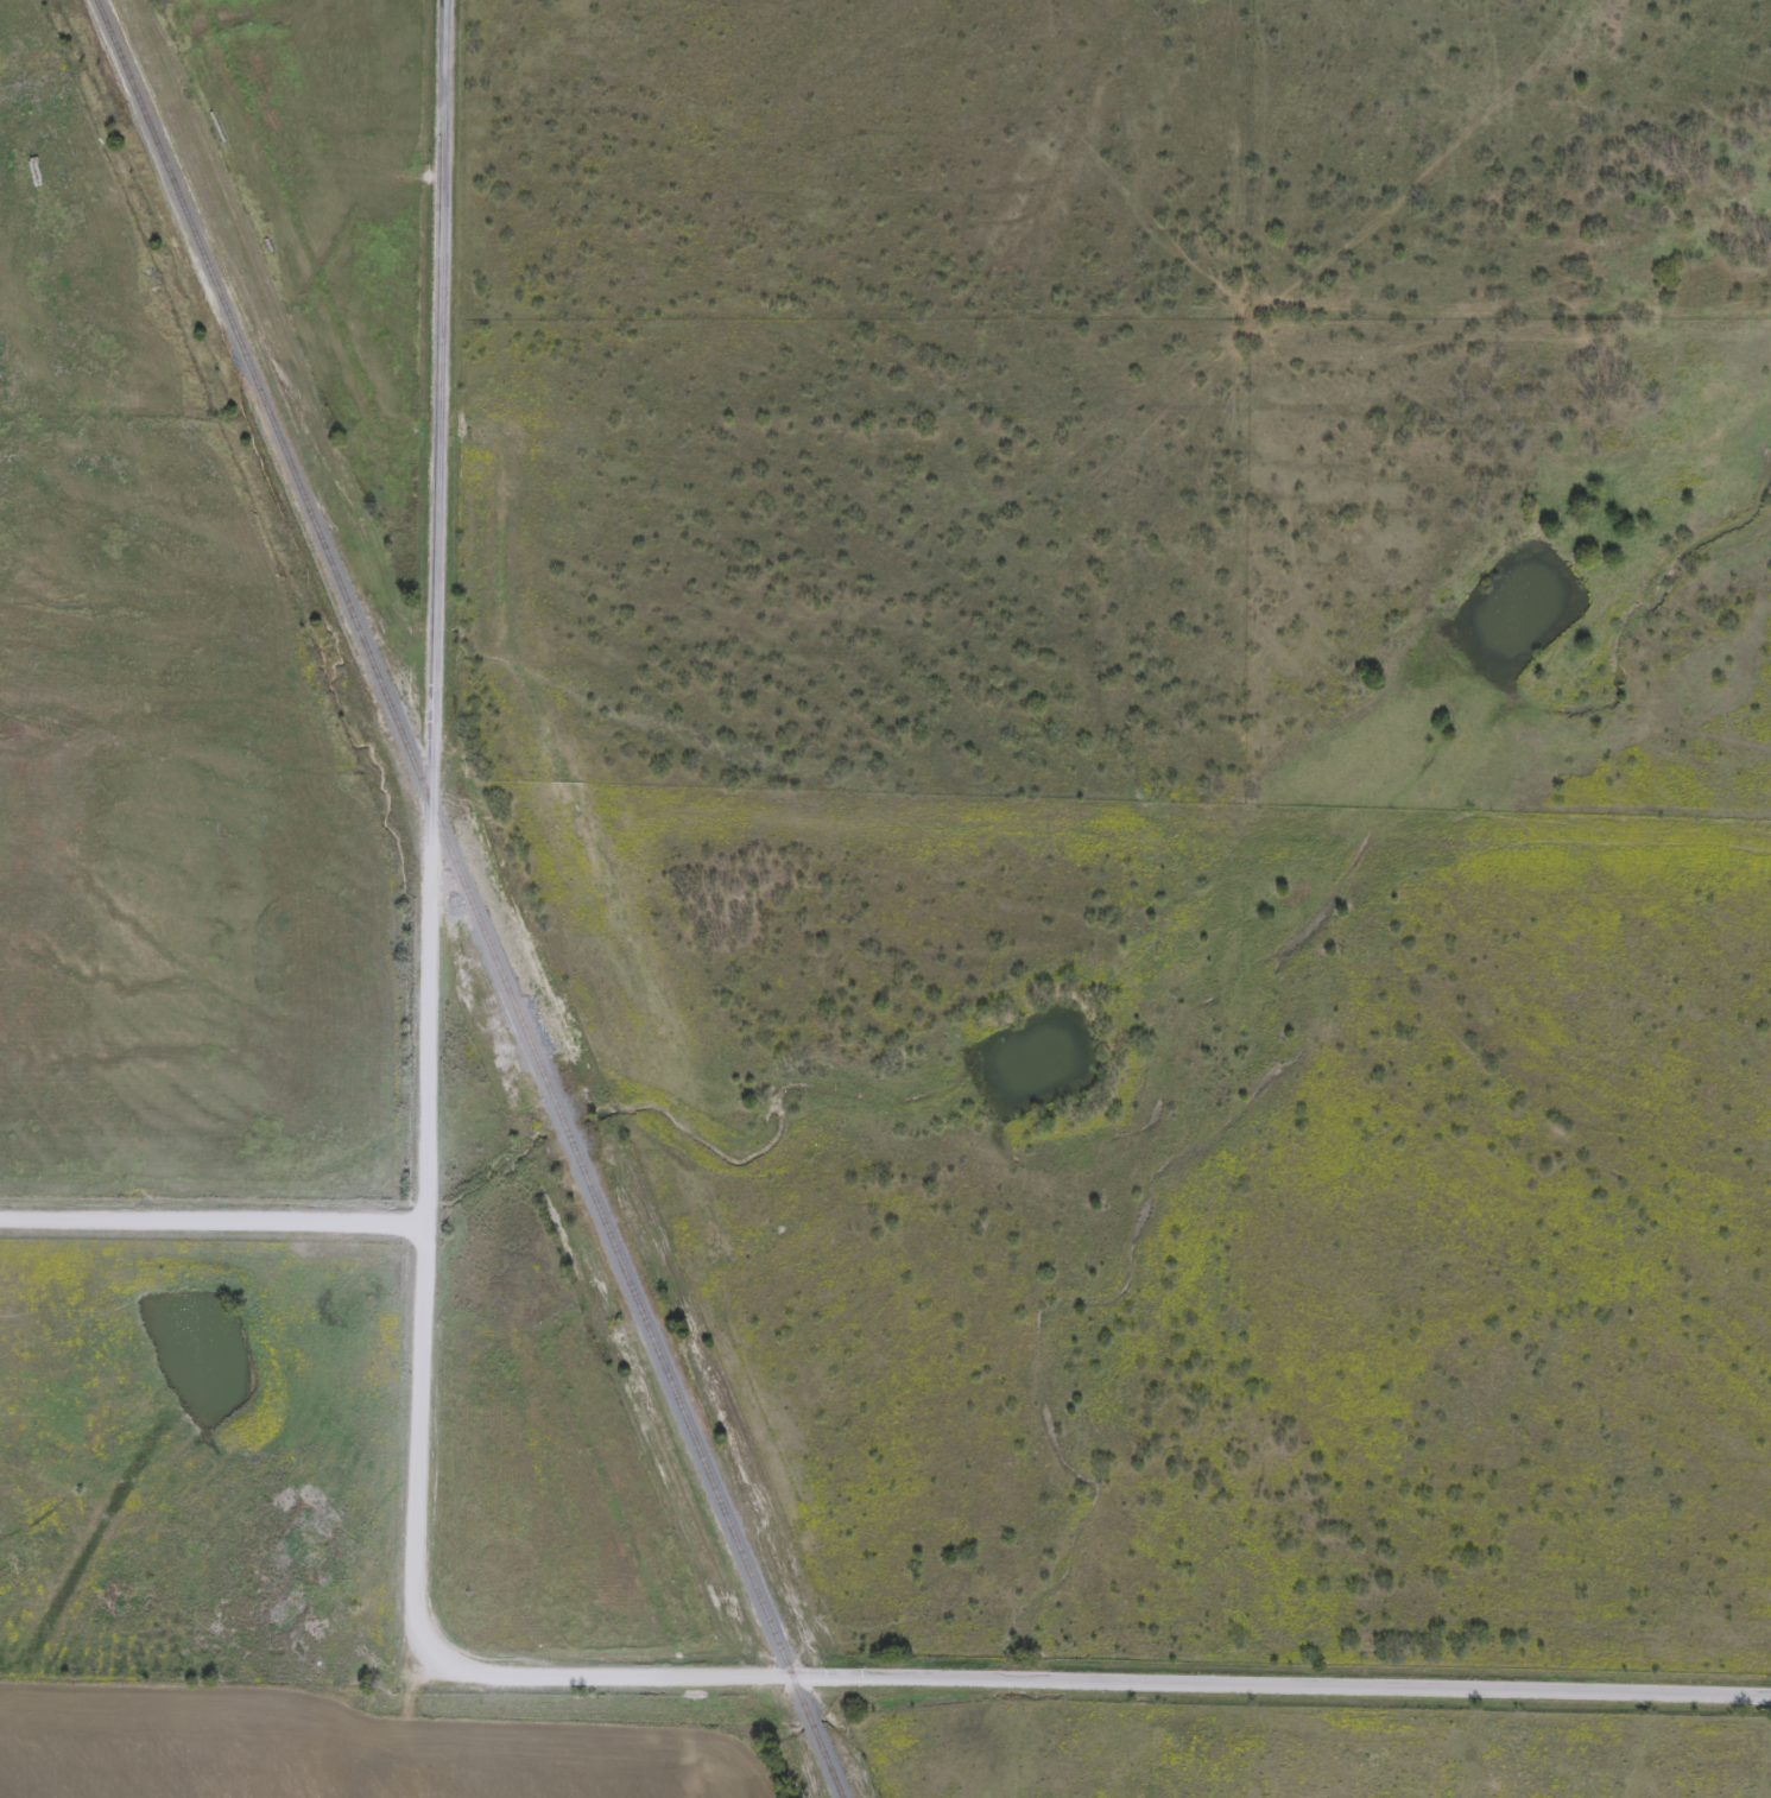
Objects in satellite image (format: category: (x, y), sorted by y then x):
railway: (468, 897)
road: (211, 1226)
road: (417, 1505)

